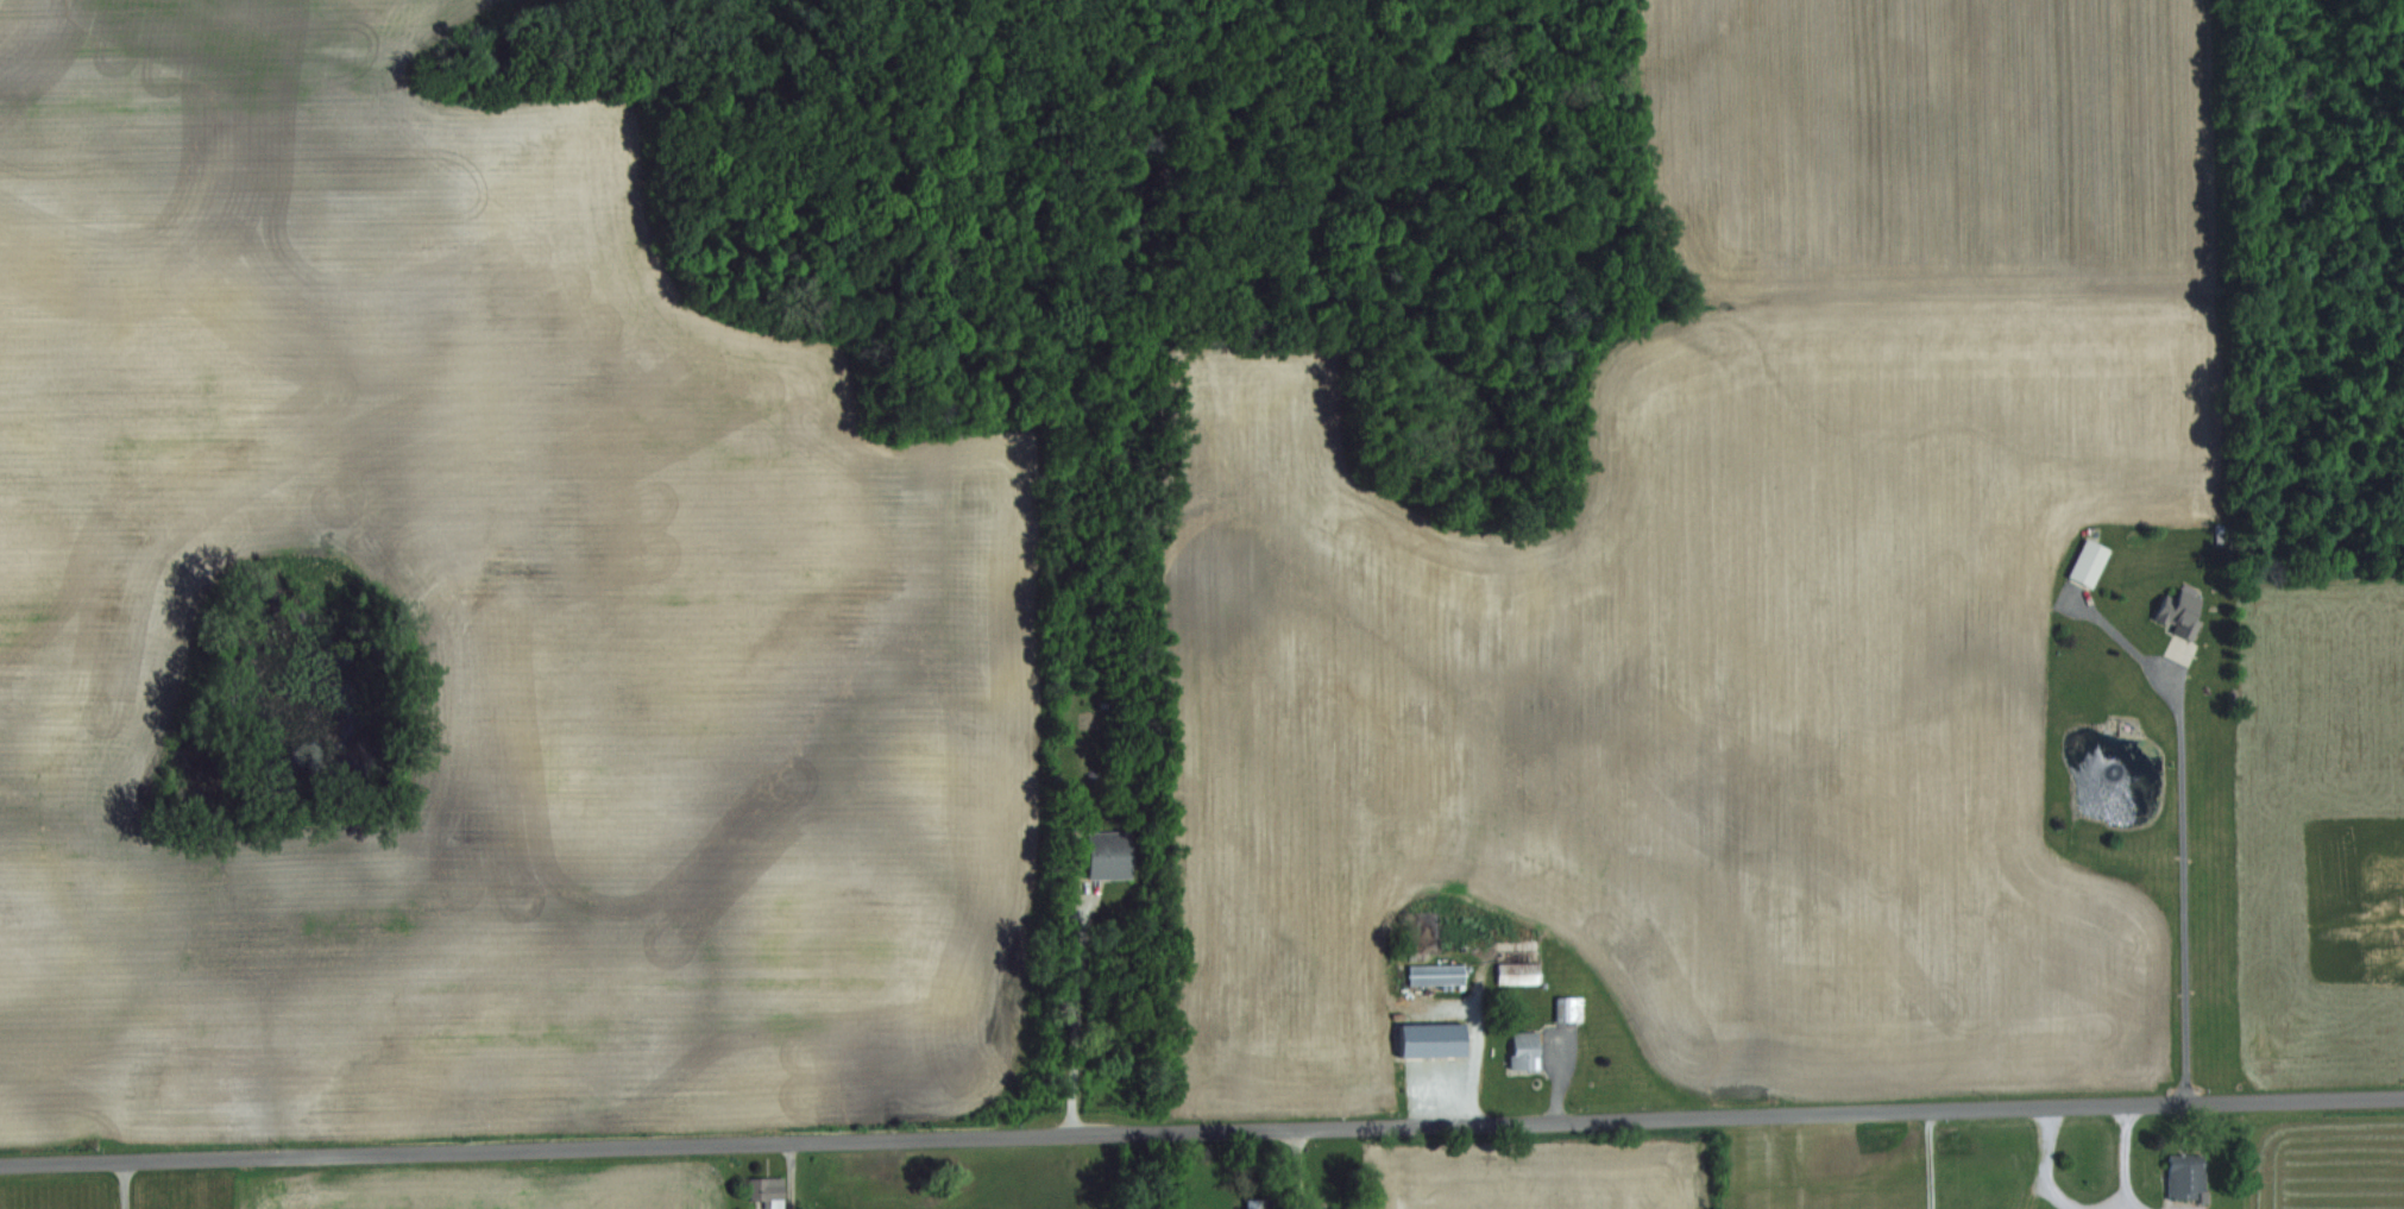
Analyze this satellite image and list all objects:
building: (2084, 563)
building: (2175, 612)
building: (1105, 855)
building: (1516, 974)
building: (1434, 975)
building: (1519, 1050)
road: (1201, 1133)
building: (2184, 1177)
building: (767, 1190)

